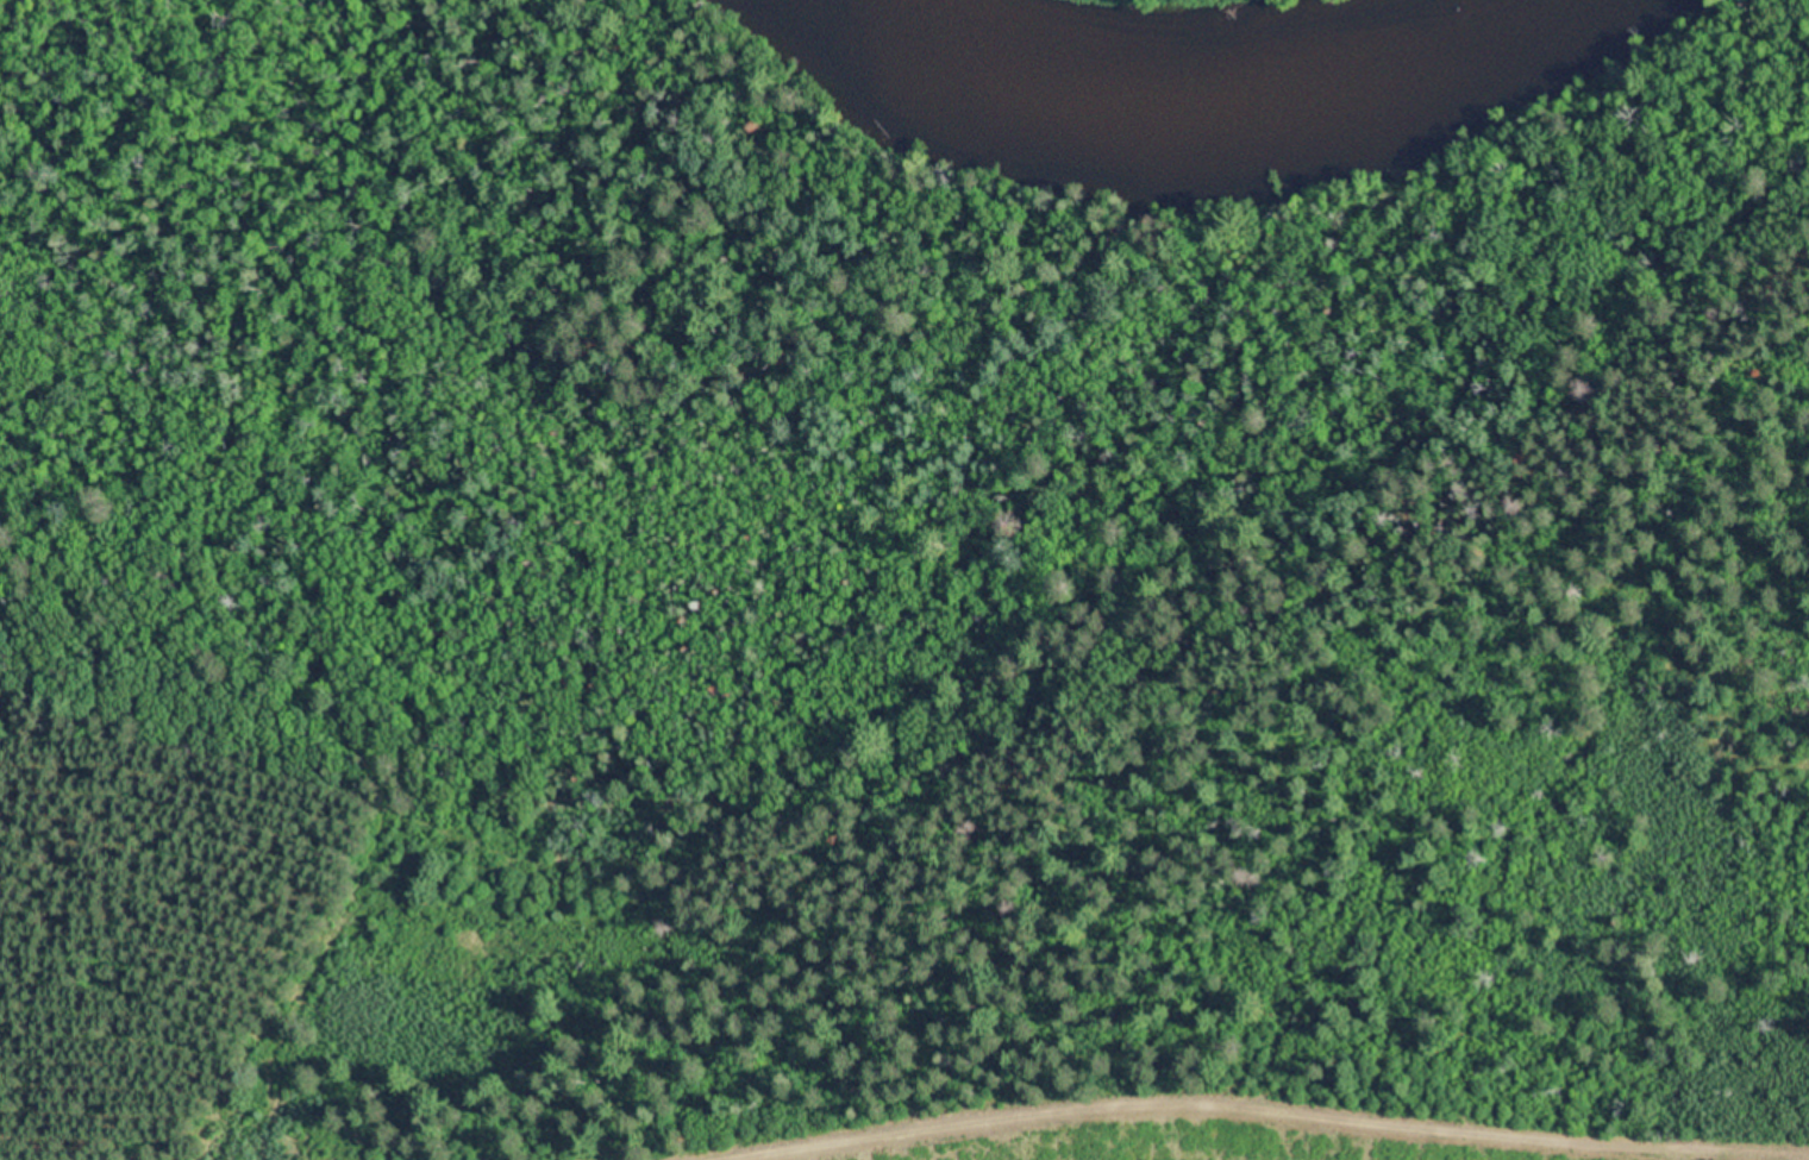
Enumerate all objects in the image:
river: (1182, 93)
road: (1267, 1114)

